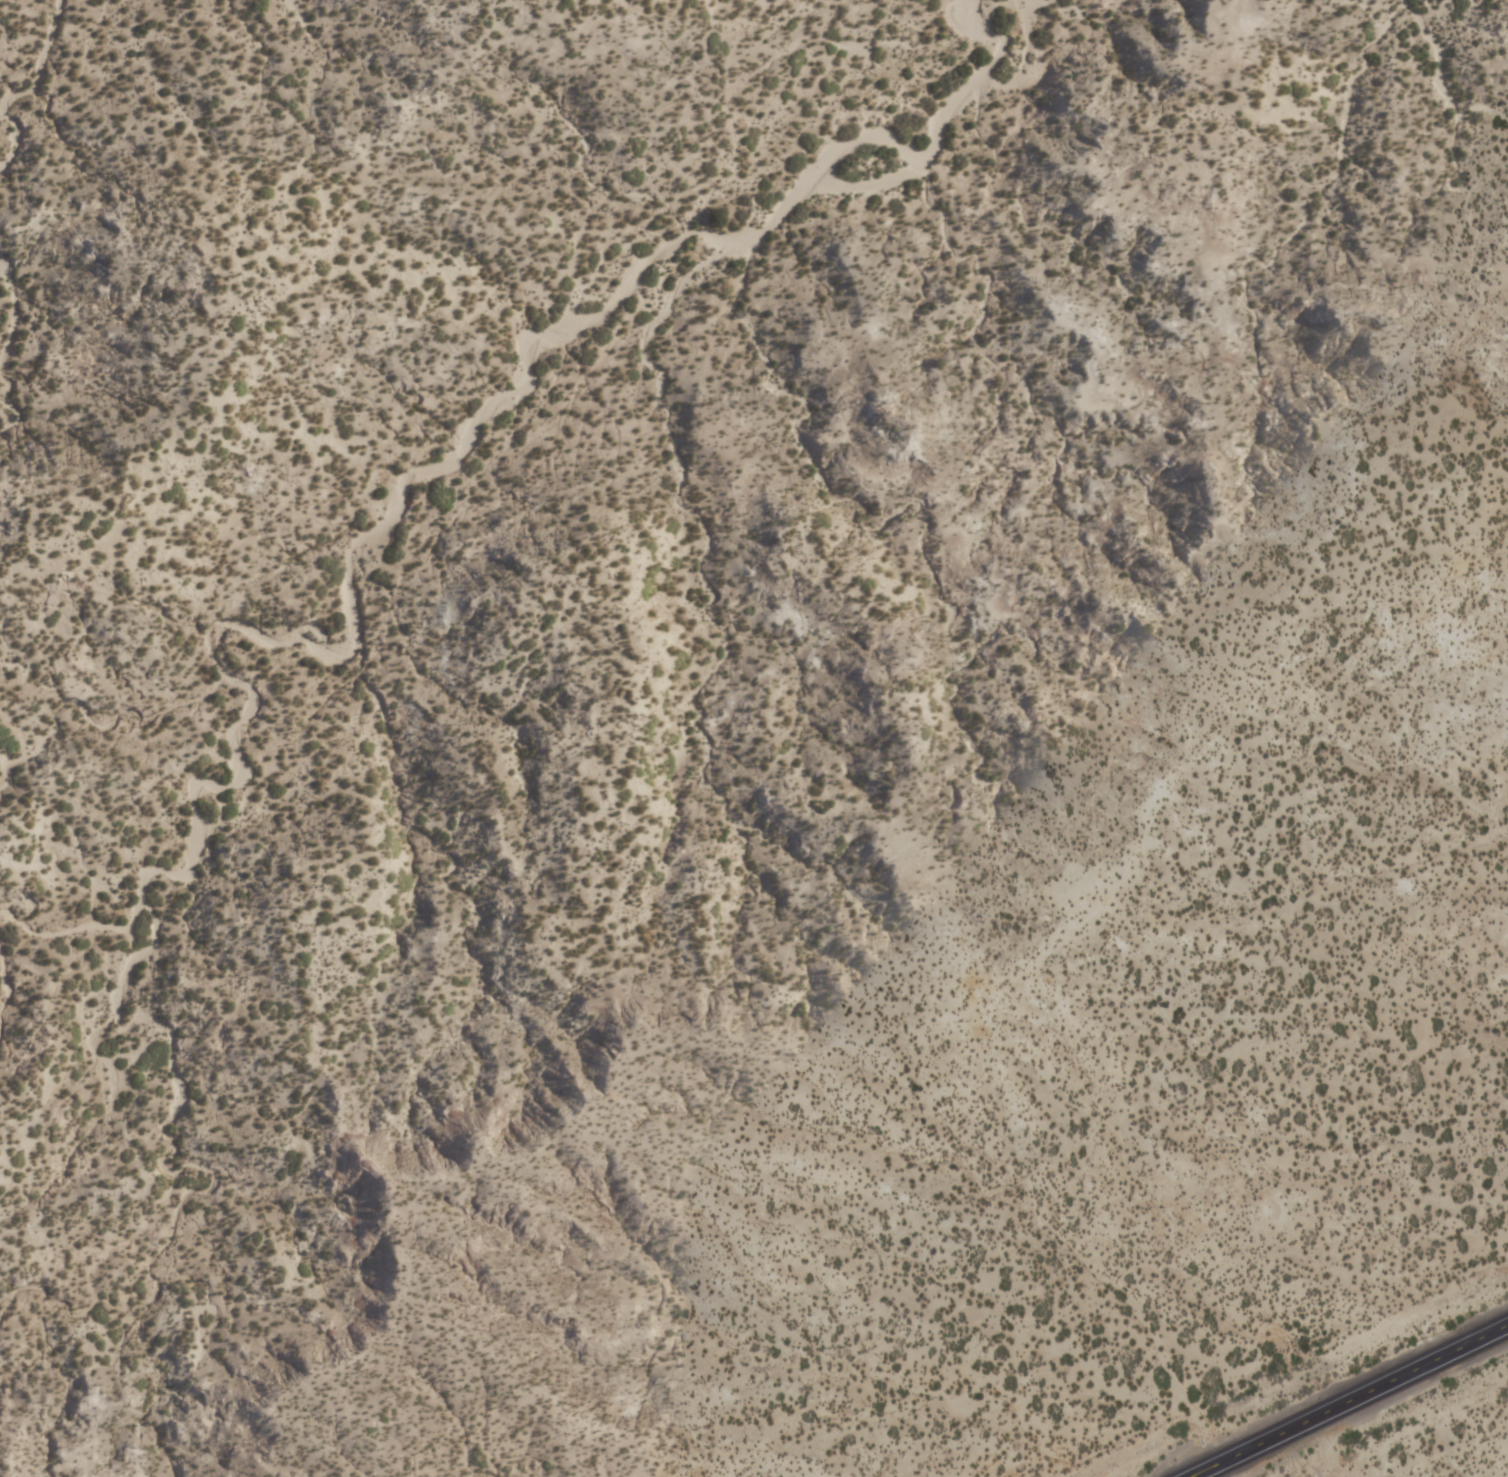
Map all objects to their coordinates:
road: (1346, 1399)

